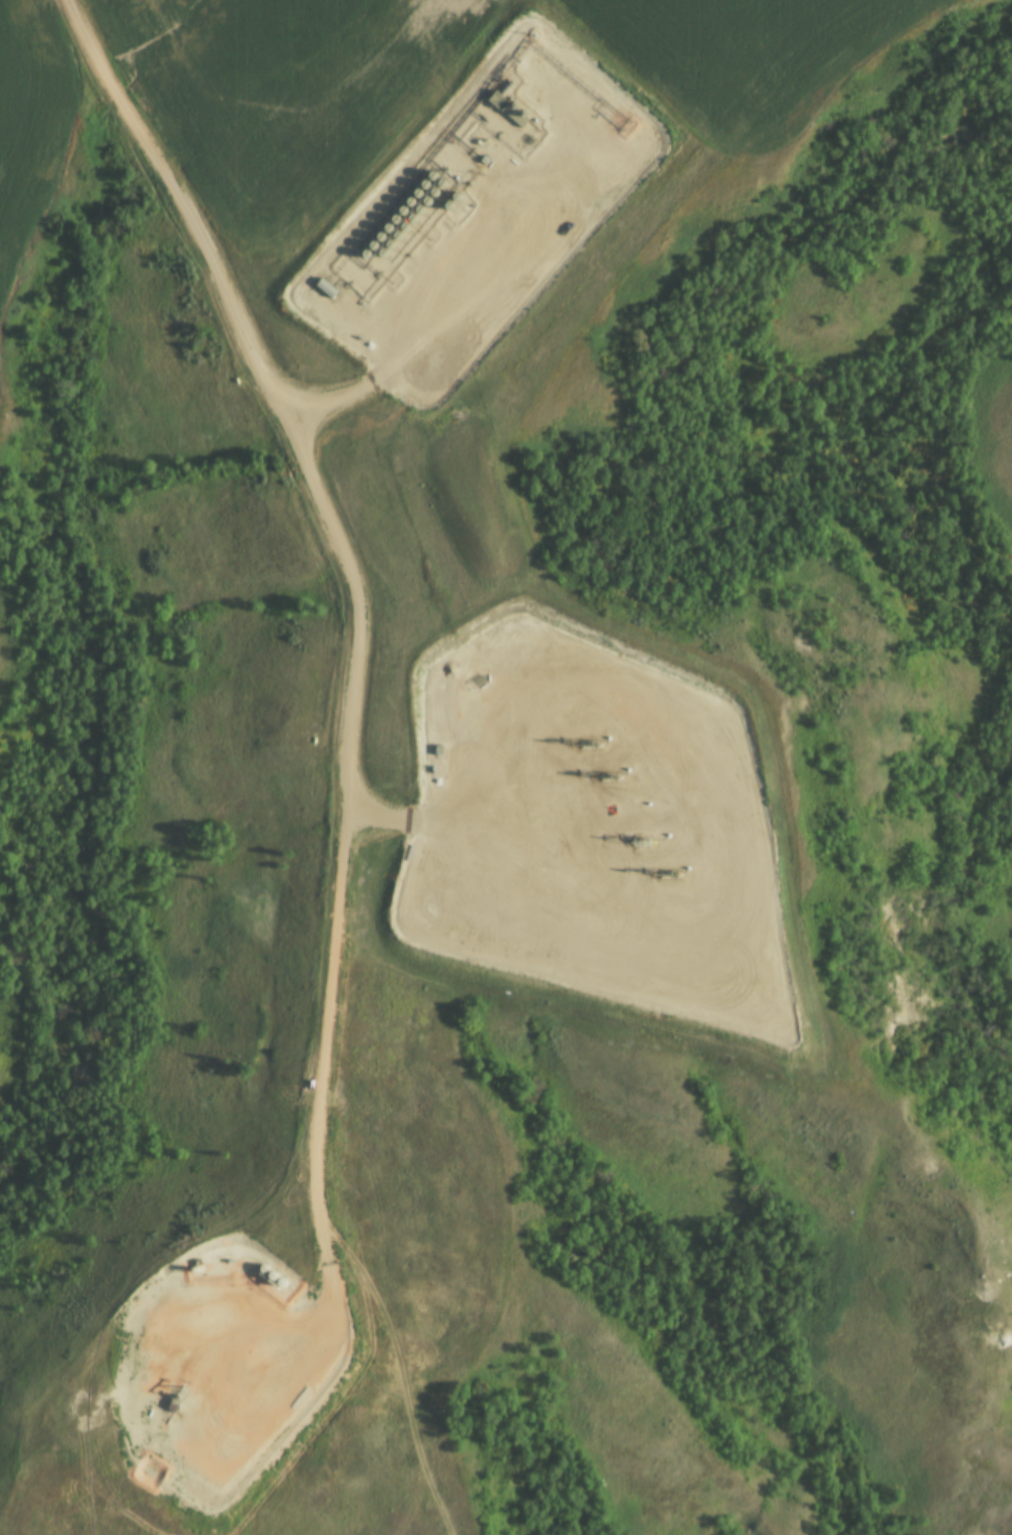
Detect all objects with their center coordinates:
building: (427, 177)
storage tank: (427, 177)
building: (419, 186)
storage tank: (419, 186)
building: (436, 186)
storage tank: (436, 186)
building: (411, 195)
storage tank: (411, 195)
building: (428, 195)
storage tank: (428, 195)
building: (450, 199)
storage tank: (450, 199)
building: (404, 203)
storage tank: (404, 203)
building: (419, 204)
storage tank: (419, 204)
building: (442, 208)
storage tank: (442, 208)
building: (395, 212)
storage tank: (395, 212)
building: (412, 213)
storage tank: (412, 213)
building: (388, 221)
storage tank: (388, 221)
building: (405, 222)
storage tank: (405, 222)
building: (381, 230)
storage tank: (381, 230)
building: (397, 230)
storage tank: (397, 230)
building: (373, 238)
storage tank: (373, 238)
building: (389, 239)
storage tank: (389, 239)
building: (366, 247)
storage tank: (366, 247)
building: (381, 247)
storage tank: (381, 247)
building: (360, 257)
storage tank: (360, 257)
road: (352, 715)
building: (257, 1272)
storage tank: (257, 1272)
building: (266, 1281)
storage tank: (266, 1281)
building: (274, 1288)
storage tank: (274, 1288)
petroleum well: (172, 1400)

